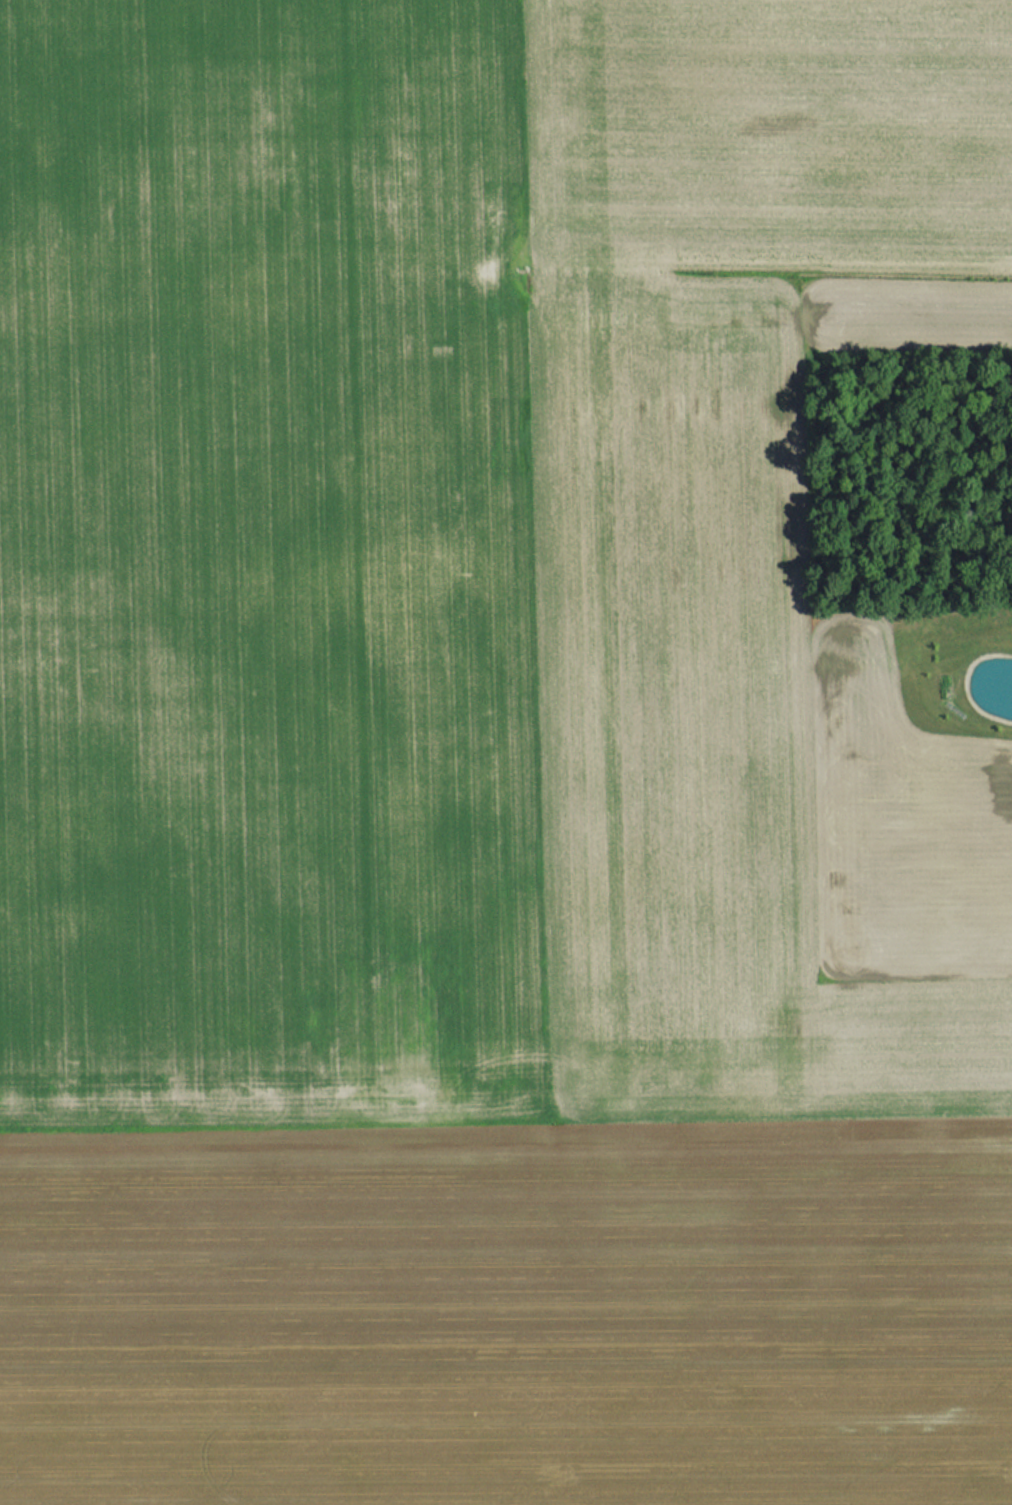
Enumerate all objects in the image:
crop: (768, 134)
crop: (265, 568)
crop: (611, 1059)

